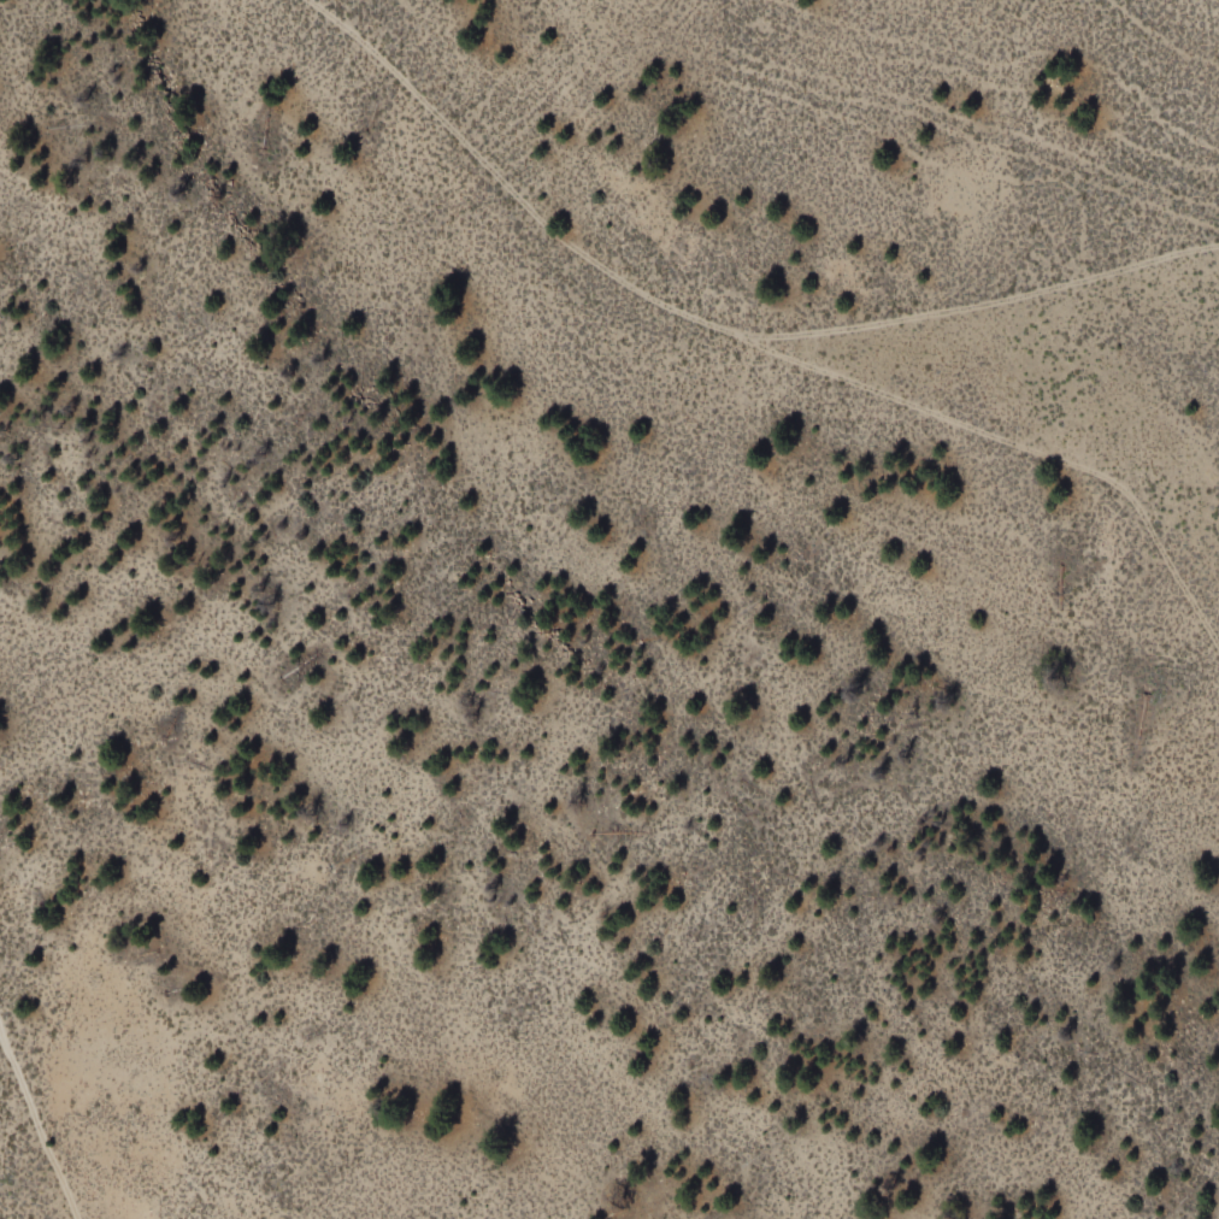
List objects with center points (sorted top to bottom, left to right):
road: (705, 329)
road: (1018, 453)
road: (40, 1119)

